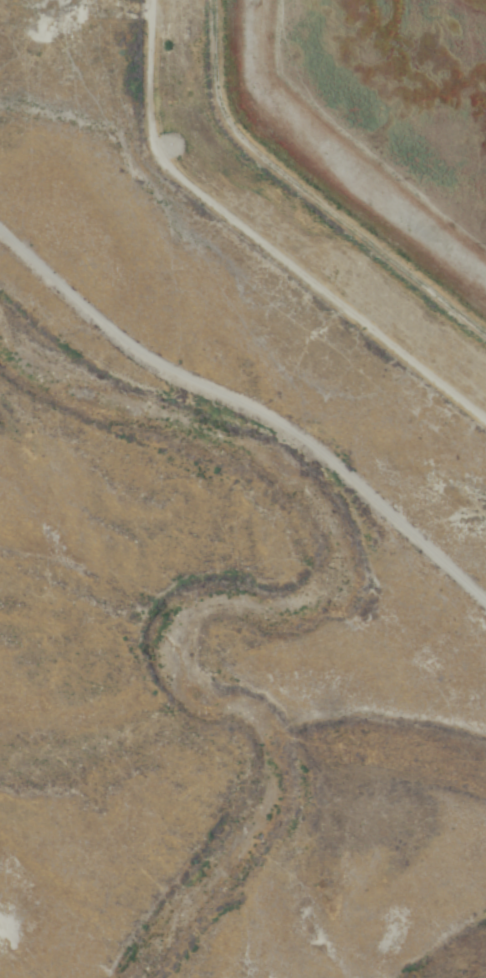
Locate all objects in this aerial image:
road: (6, 34)
crop: (350, 136)
road: (251, 417)

